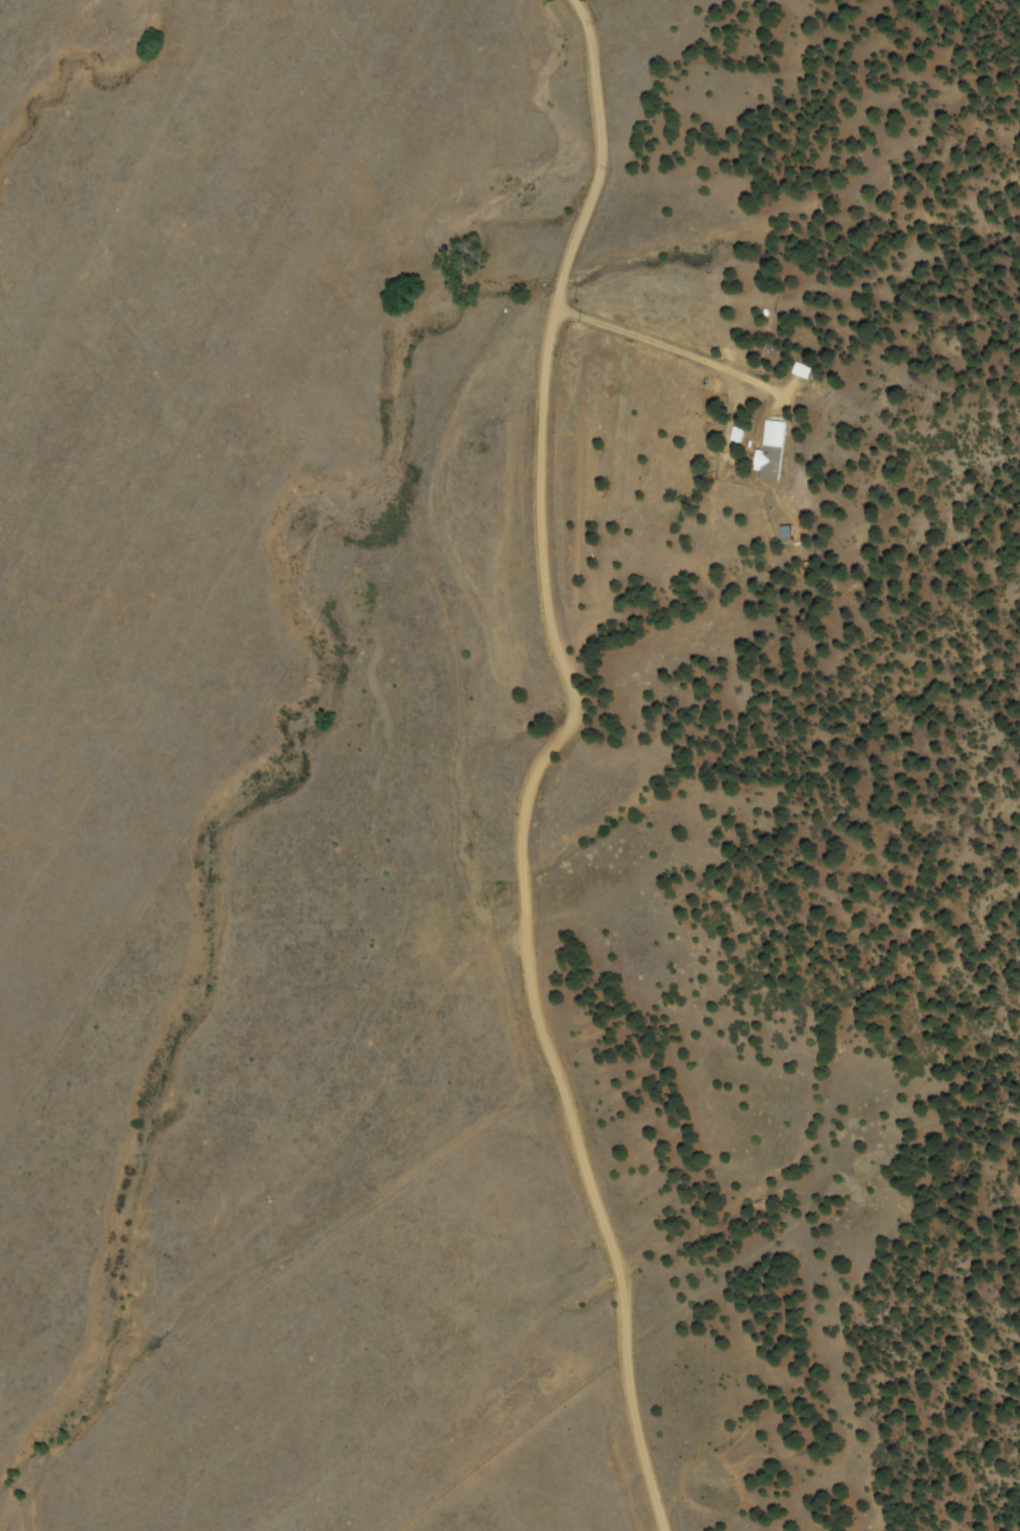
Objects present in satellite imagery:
building: (801, 370)
building: (771, 450)
building: (785, 533)
road: (790, 605)
road: (542, 772)

